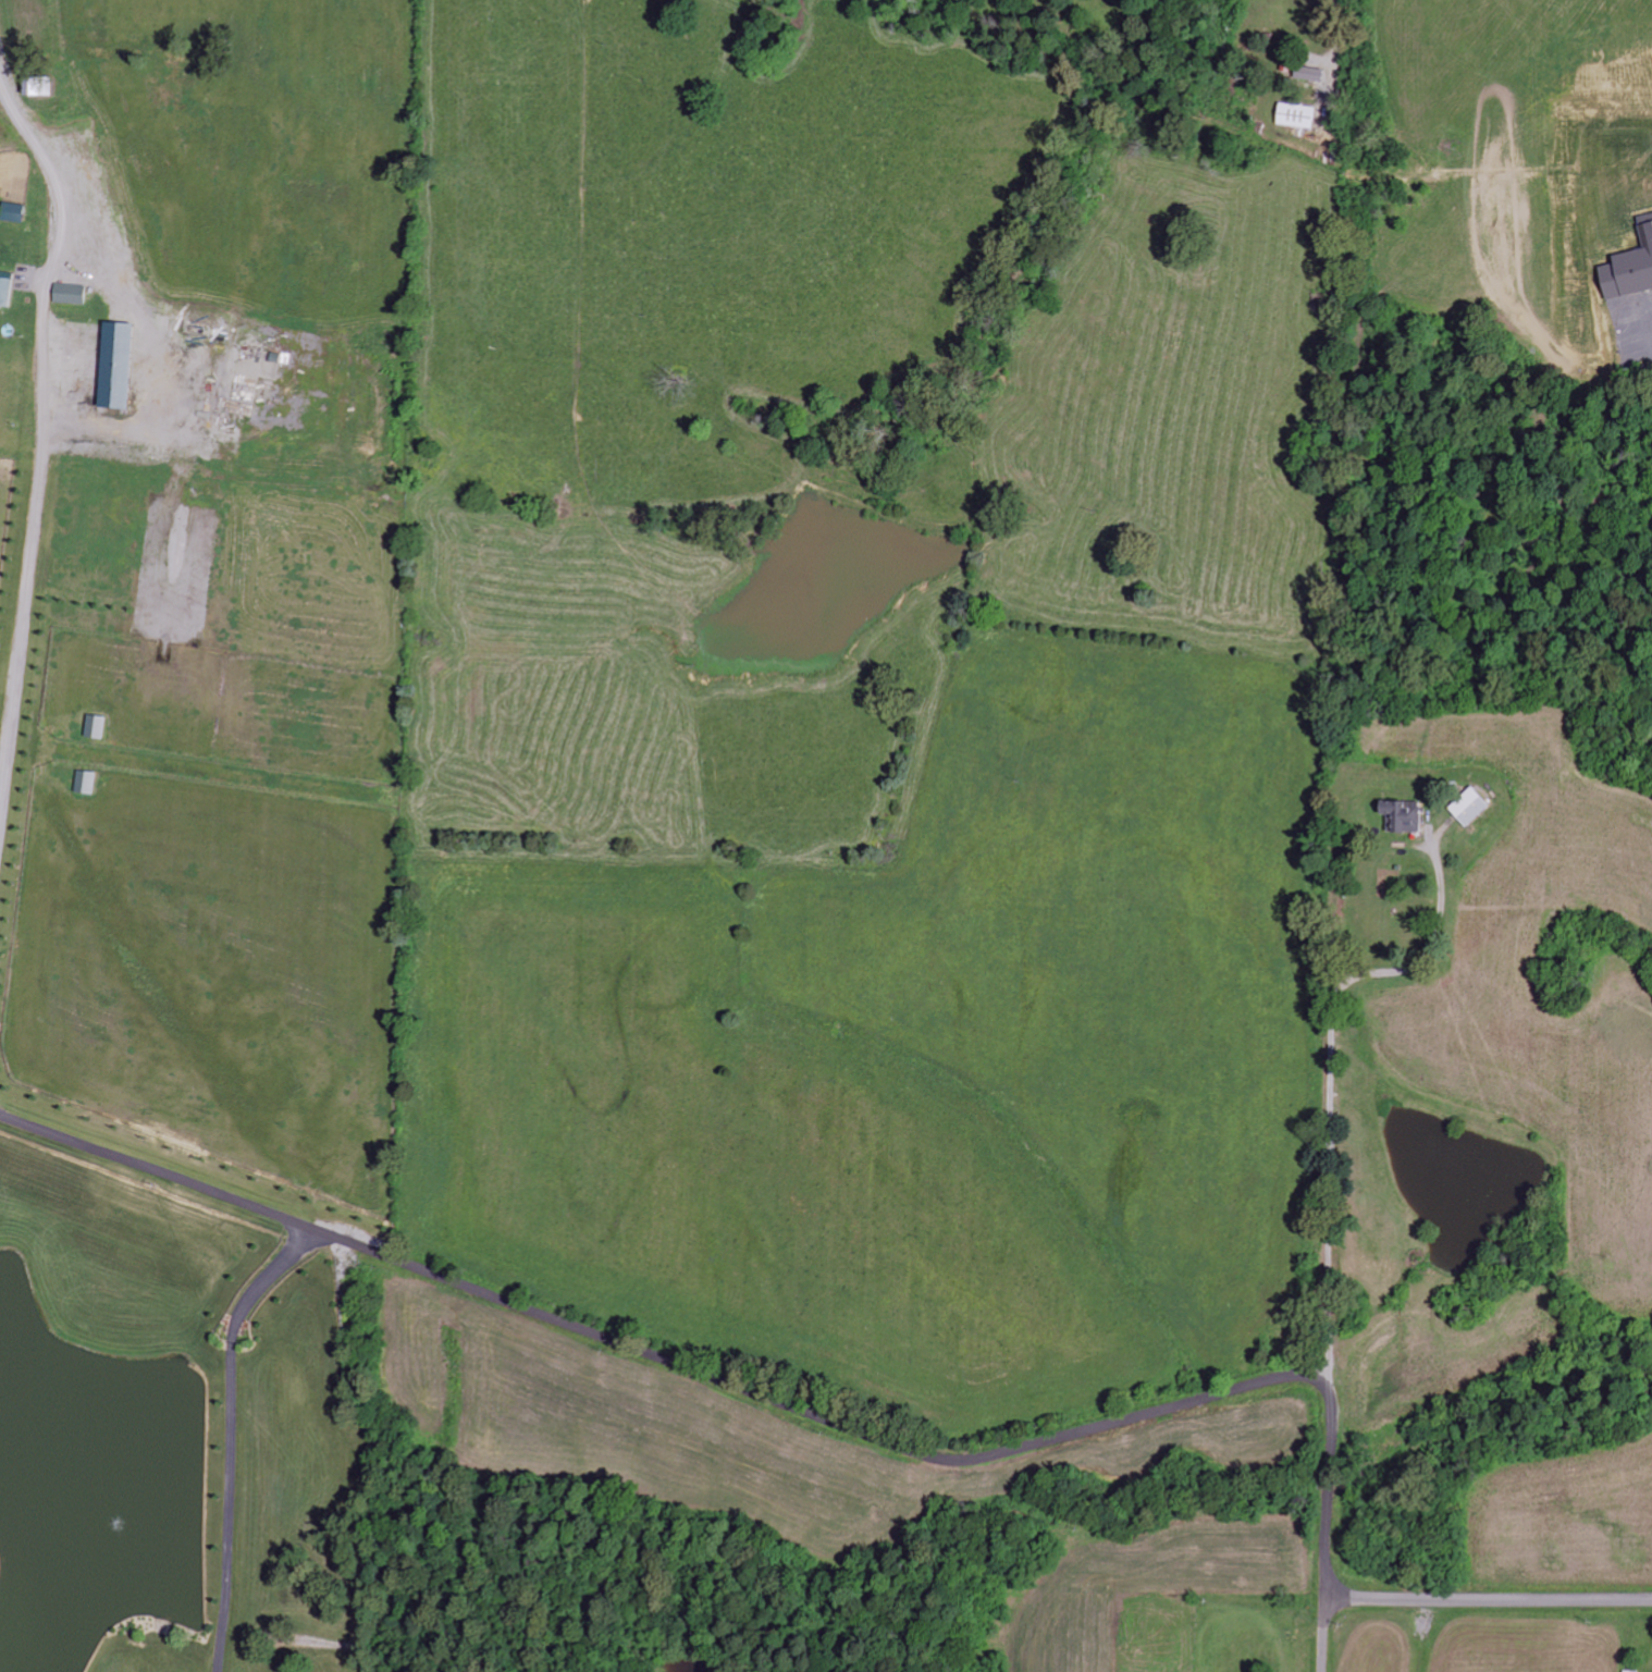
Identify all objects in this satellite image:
building: (1309, 75)
building: (38, 88)
road: (24, 112)
building: (1296, 118)
building: (13, 213)
building: (1630, 271)
building: (5, 293)
building: (70, 295)
building: (118, 368)
building: (95, 727)
building: (85, 783)
building: (1471, 807)
building: (1404, 816)
road: (1328, 1177)
road: (757, 1397)
road: (1489, 1598)
road: (1323, 1634)

